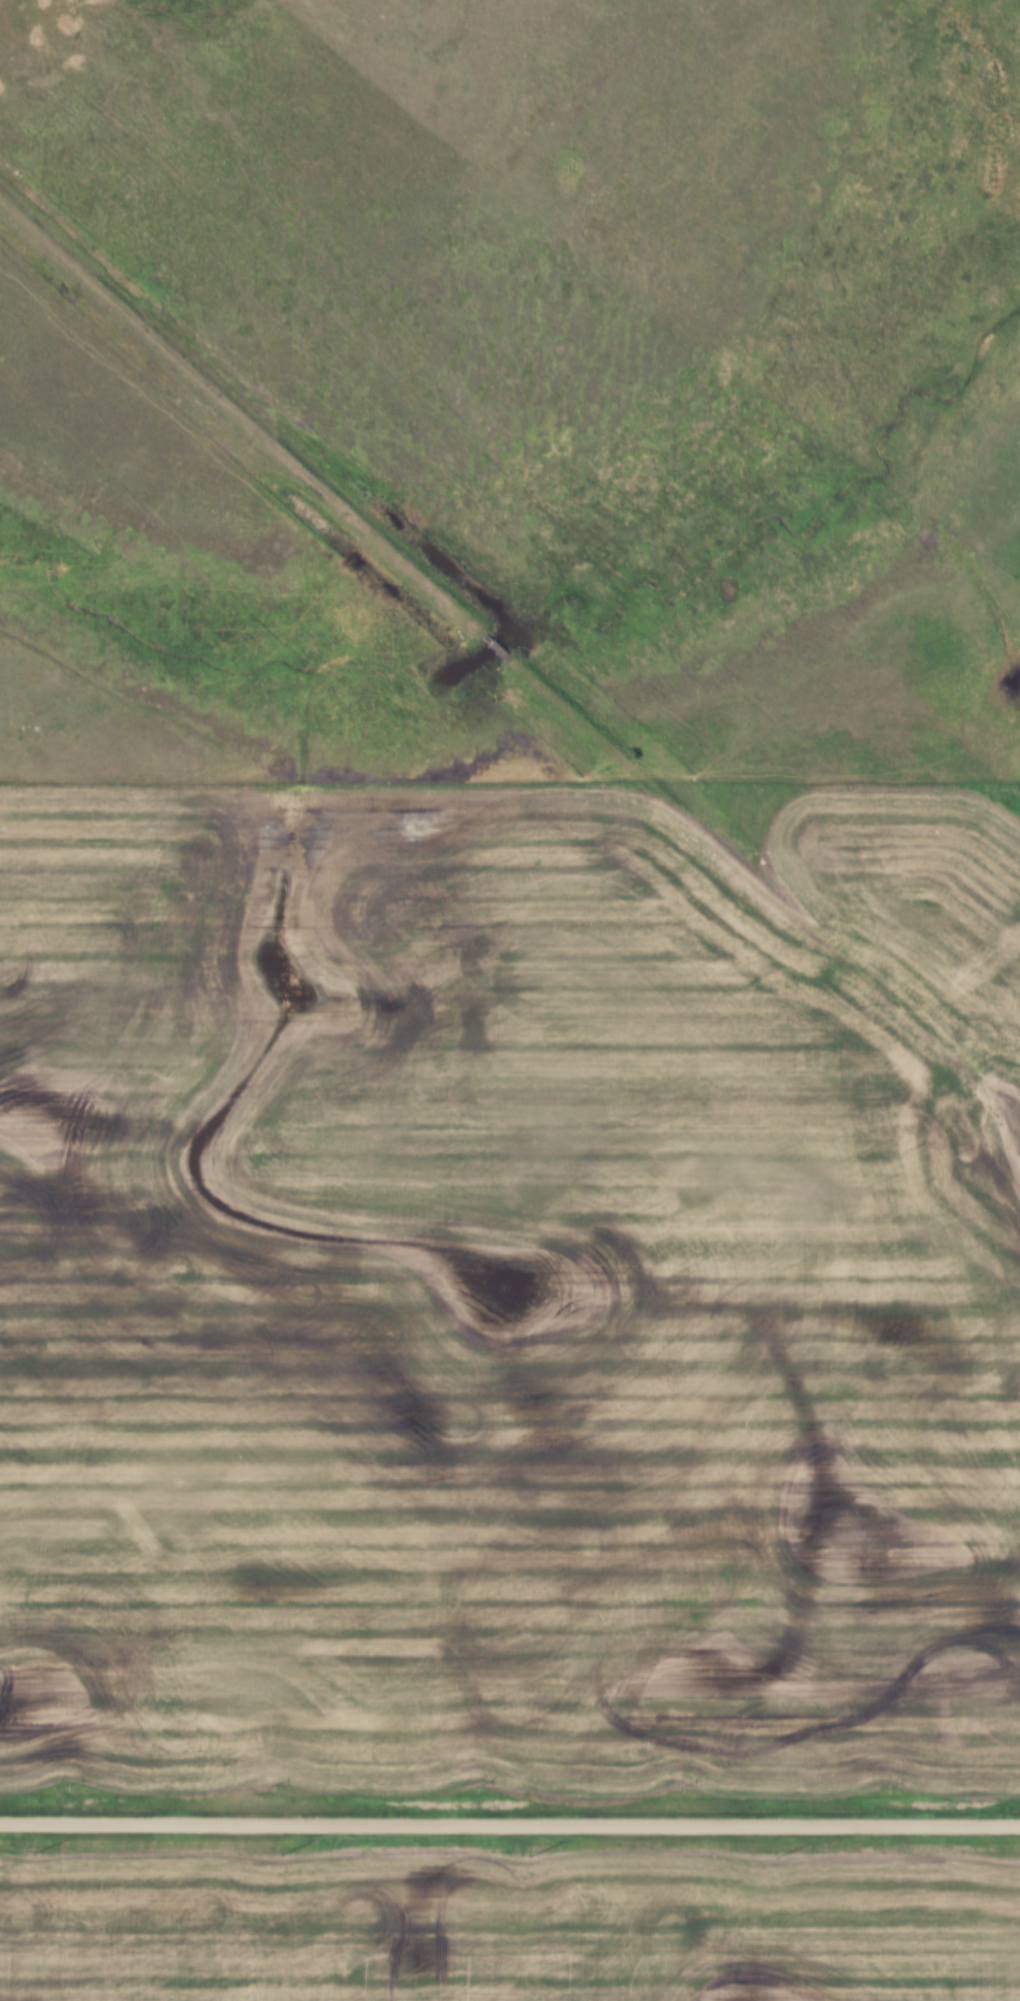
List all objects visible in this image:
road: (509, 1821)

